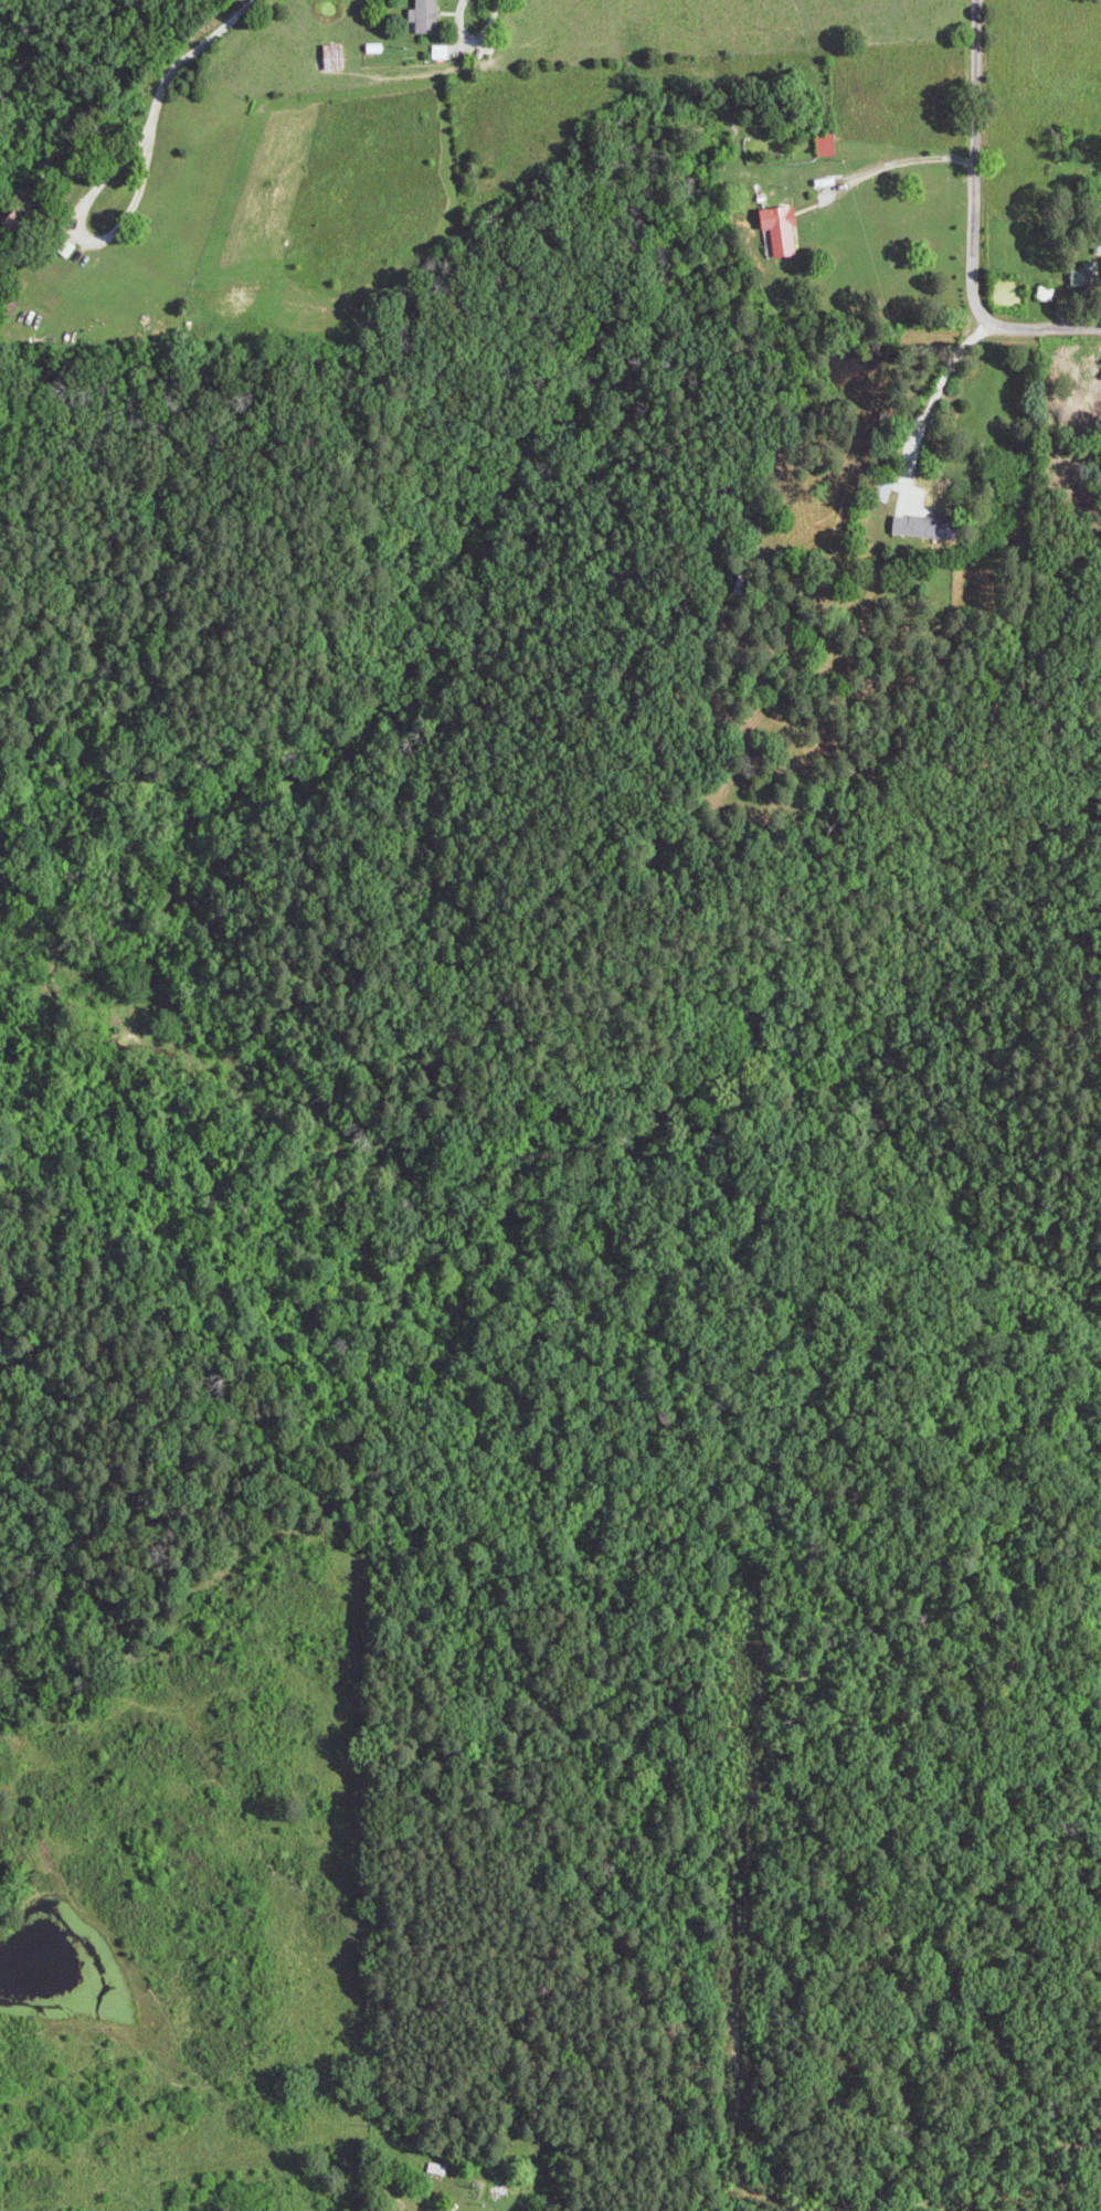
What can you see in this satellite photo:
building: (430, 15)
road: (470, 35)
building: (444, 52)
road: (187, 56)
road: (896, 158)
road: (77, 219)
road: (971, 221)
building: (786, 229)
road: (925, 405)
building: (930, 527)

